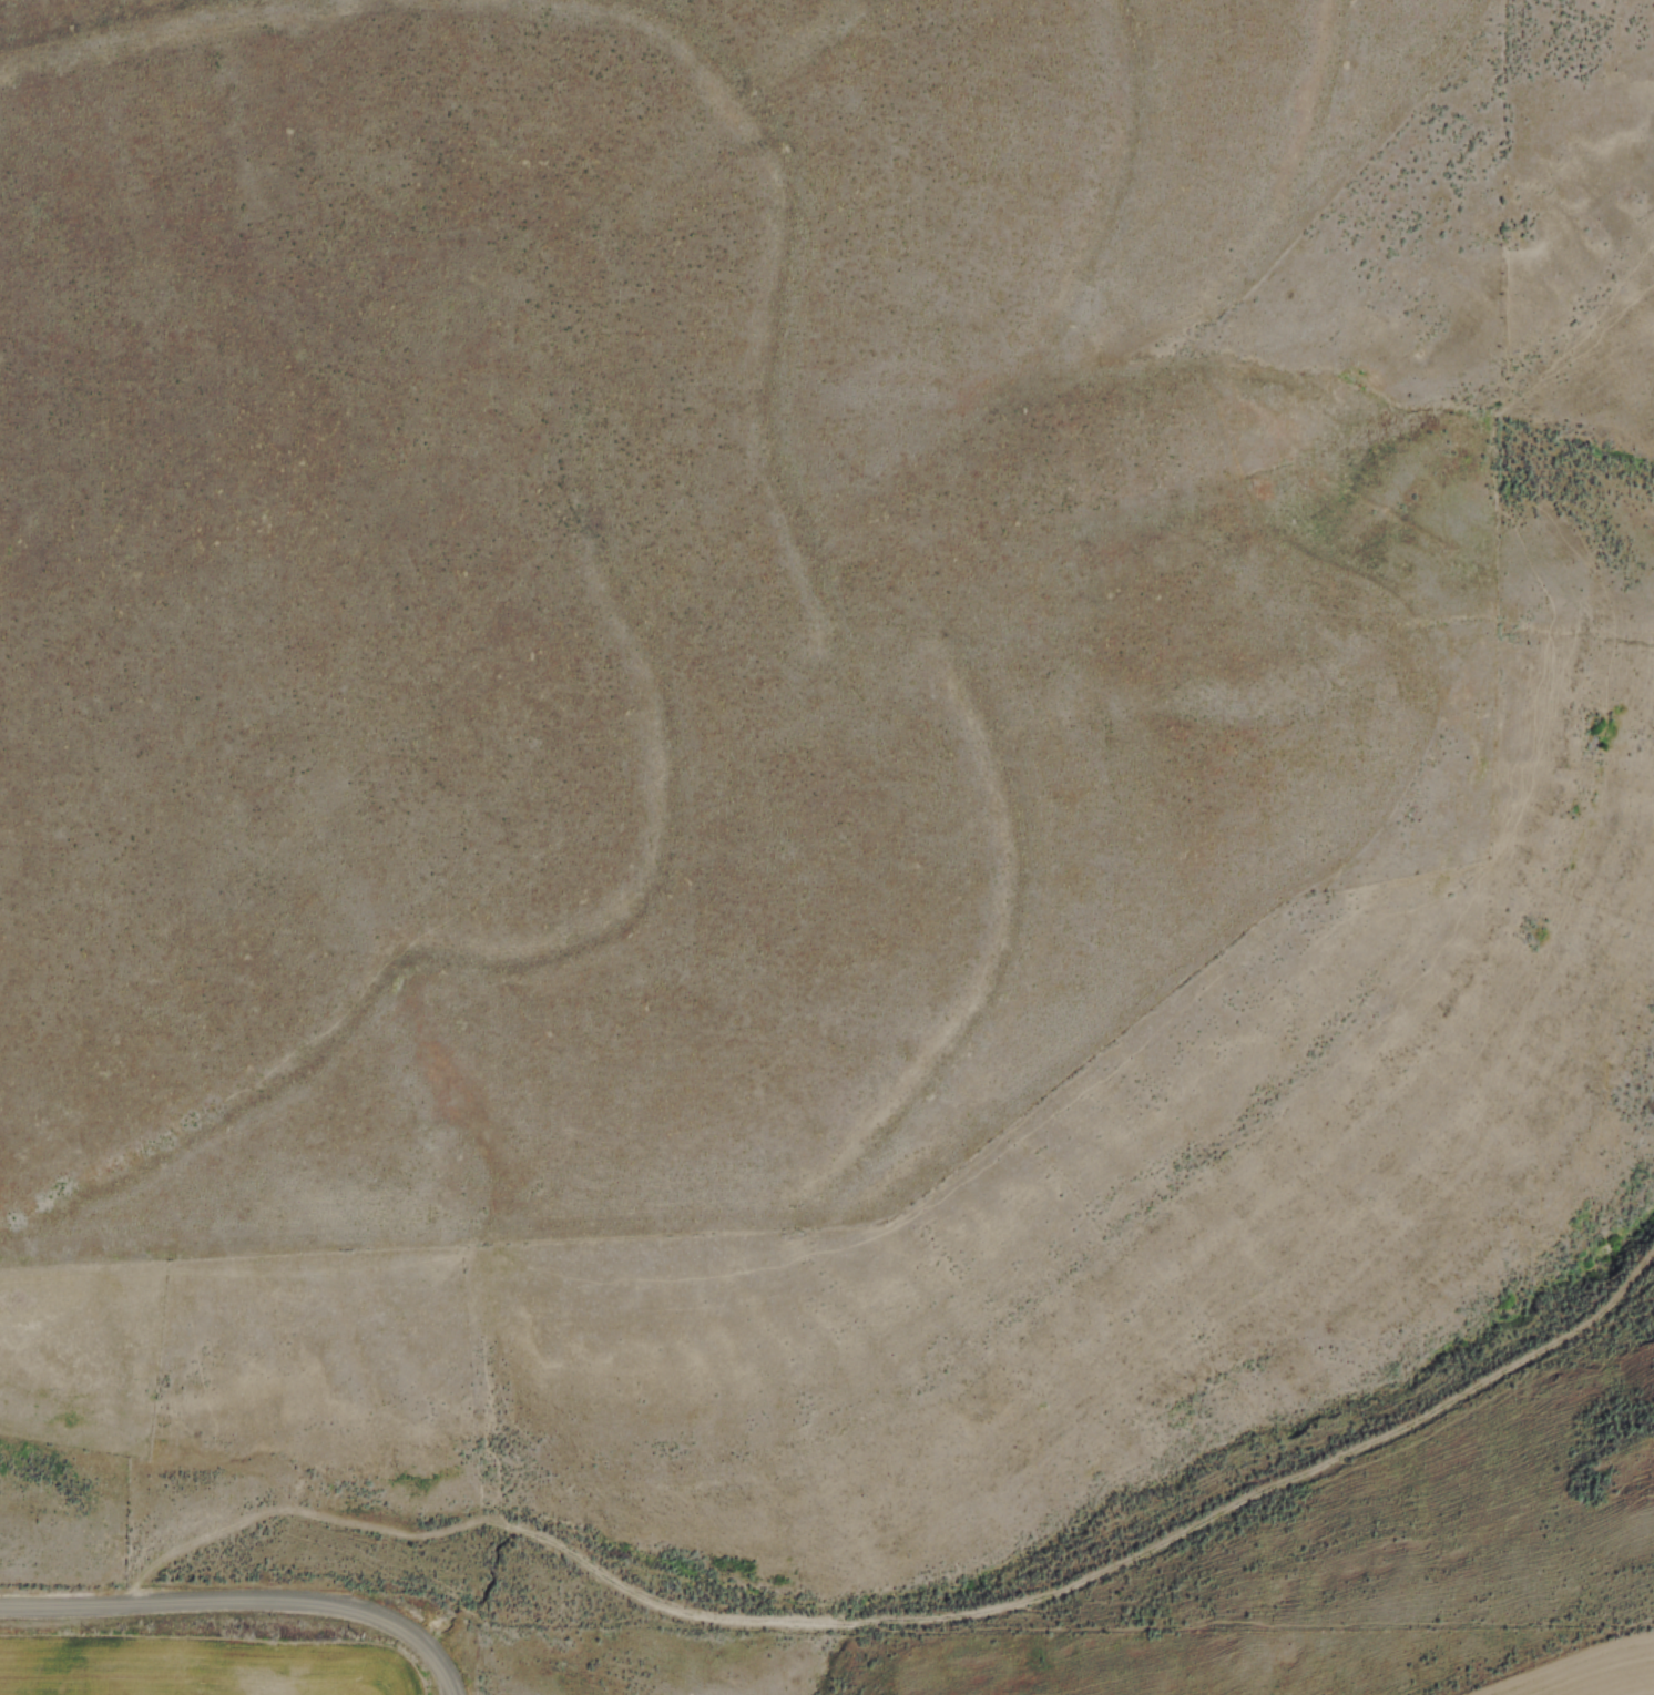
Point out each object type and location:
road: (247, 1599)

